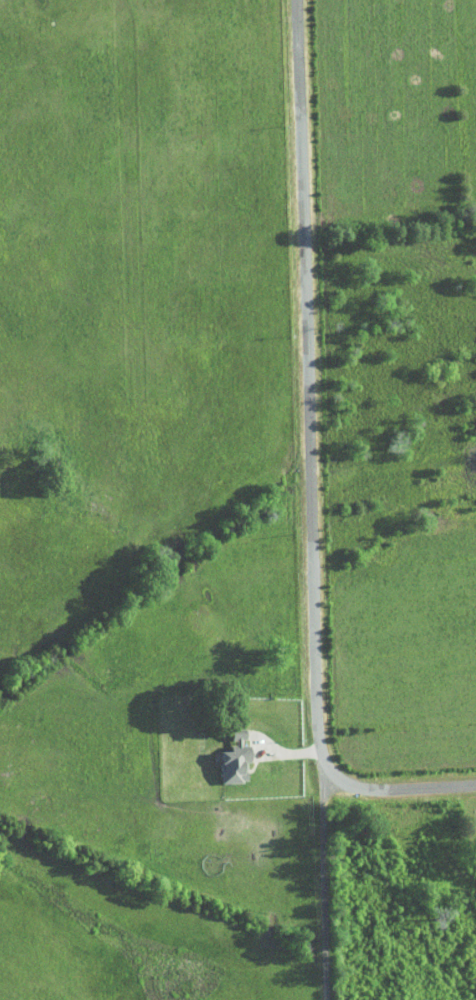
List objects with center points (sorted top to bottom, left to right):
road: (311, 465)
building: (228, 753)
road: (325, 883)

